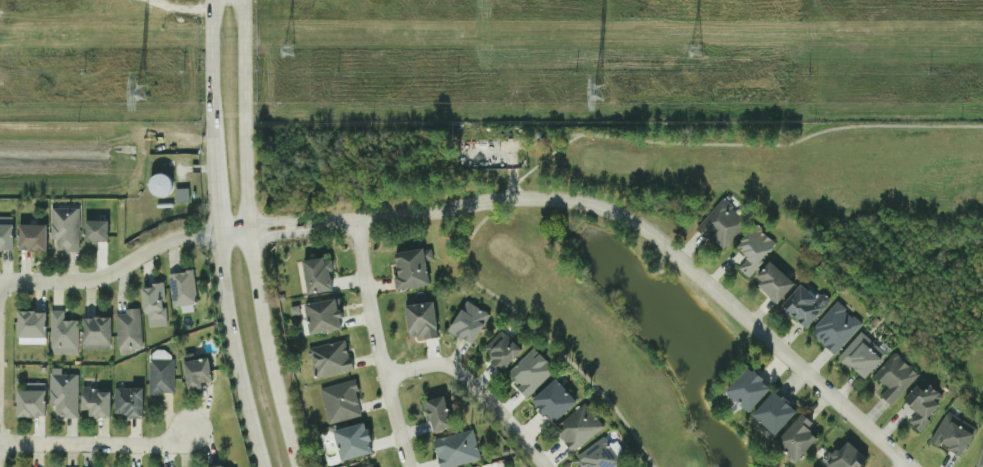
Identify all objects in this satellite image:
power tower: (287, 50)
power tower: (693, 51)
road: (212, 87)
power tower: (598, 95)
power tower: (139, 96)
road: (554, 151)
building: (160, 184)
building: (181, 195)
road: (216, 204)
road: (309, 220)
road: (270, 222)
building: (722, 224)
road: (290, 227)
building: (64, 228)
building: (95, 230)
road: (310, 231)
building: (6, 233)
road: (252, 235)
road: (271, 235)
building: (31, 237)
road: (657, 239)
building: (754, 248)
road: (127, 263)
building: (412, 268)
building: (318, 275)
building: (774, 281)
building: (182, 288)
park: (592, 298)
building: (805, 304)
building: (154, 305)
building: (323, 316)
building: (421, 320)
building: (468, 322)
building: (31, 327)
building: (835, 328)
building: (128, 329)
building: (96, 333)
building: (62, 334)
road: (232, 335)
road: (378, 345)
building: (501, 349)
building: (861, 355)
building: (329, 359)
building: (196, 370)
building: (530, 372)
building: (160, 376)
building: (894, 377)
building: (748, 388)
road: (477, 391)
building: (63, 393)
building: (31, 400)
building: (554, 400)
building: (127, 401)
building: (340, 401)
building: (96, 402)
building: (923, 403)
building: (774, 412)
building: (438, 413)
building: (578, 427)
building: (953, 433)
building: (797, 438)
building: (353, 441)
road: (96, 444)
building: (456, 449)
road: (258, 451)
building: (600, 454)
building: (846, 456)
building: (980, 456)
building: (368, 465)
building: (218, 466)

